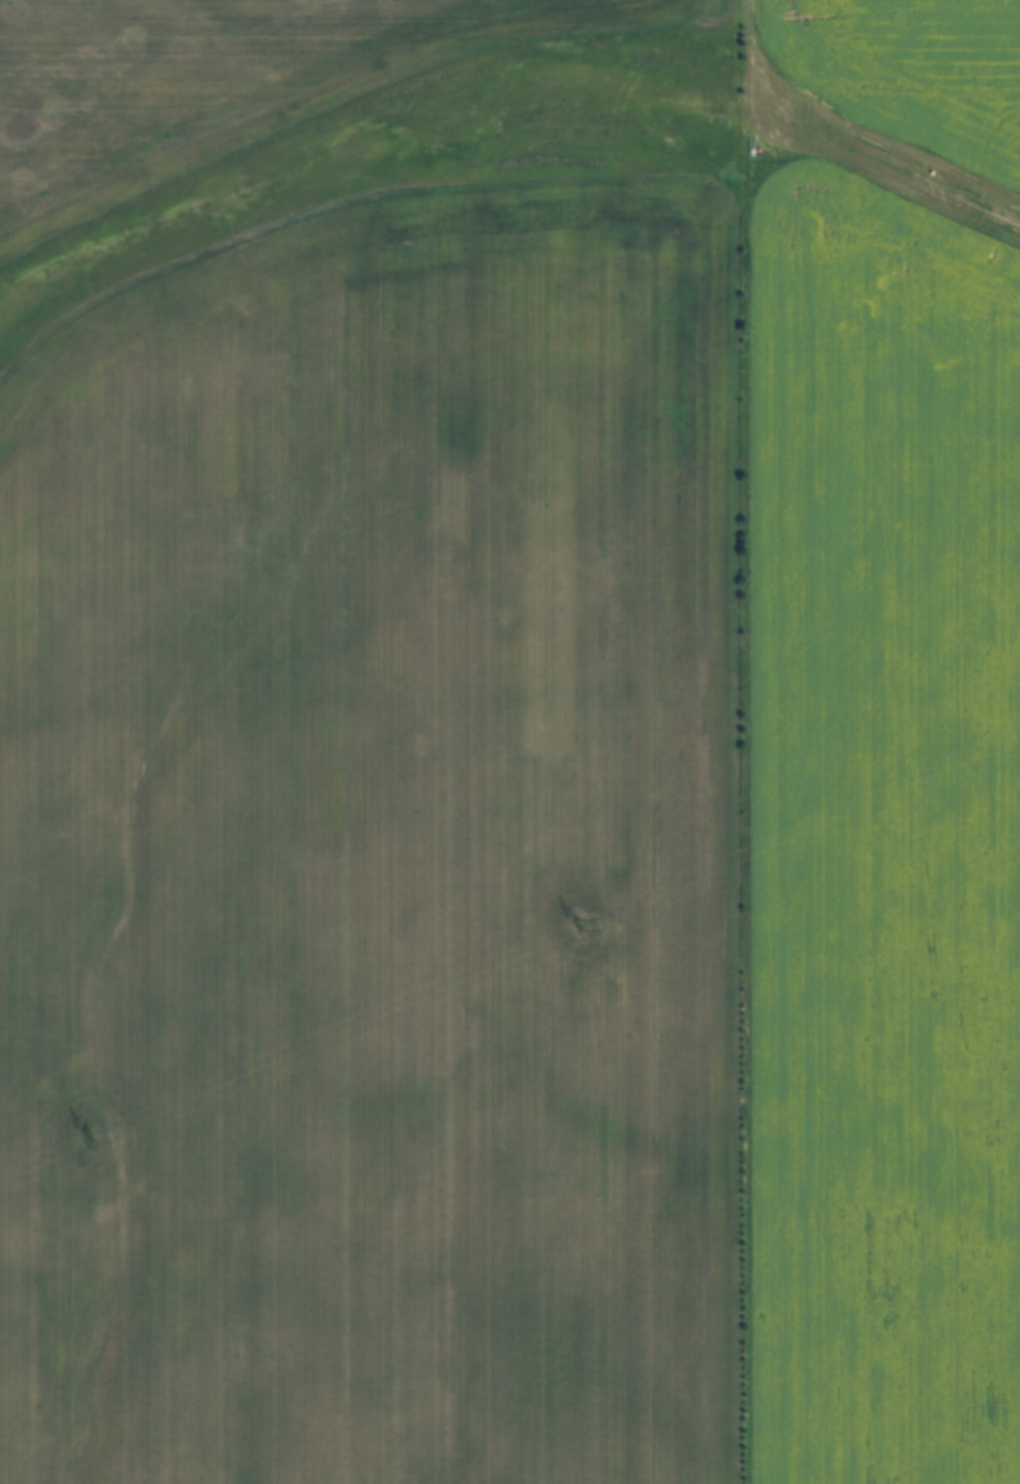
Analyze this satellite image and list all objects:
power tower: (577, 924)
power tower: (88, 1135)

